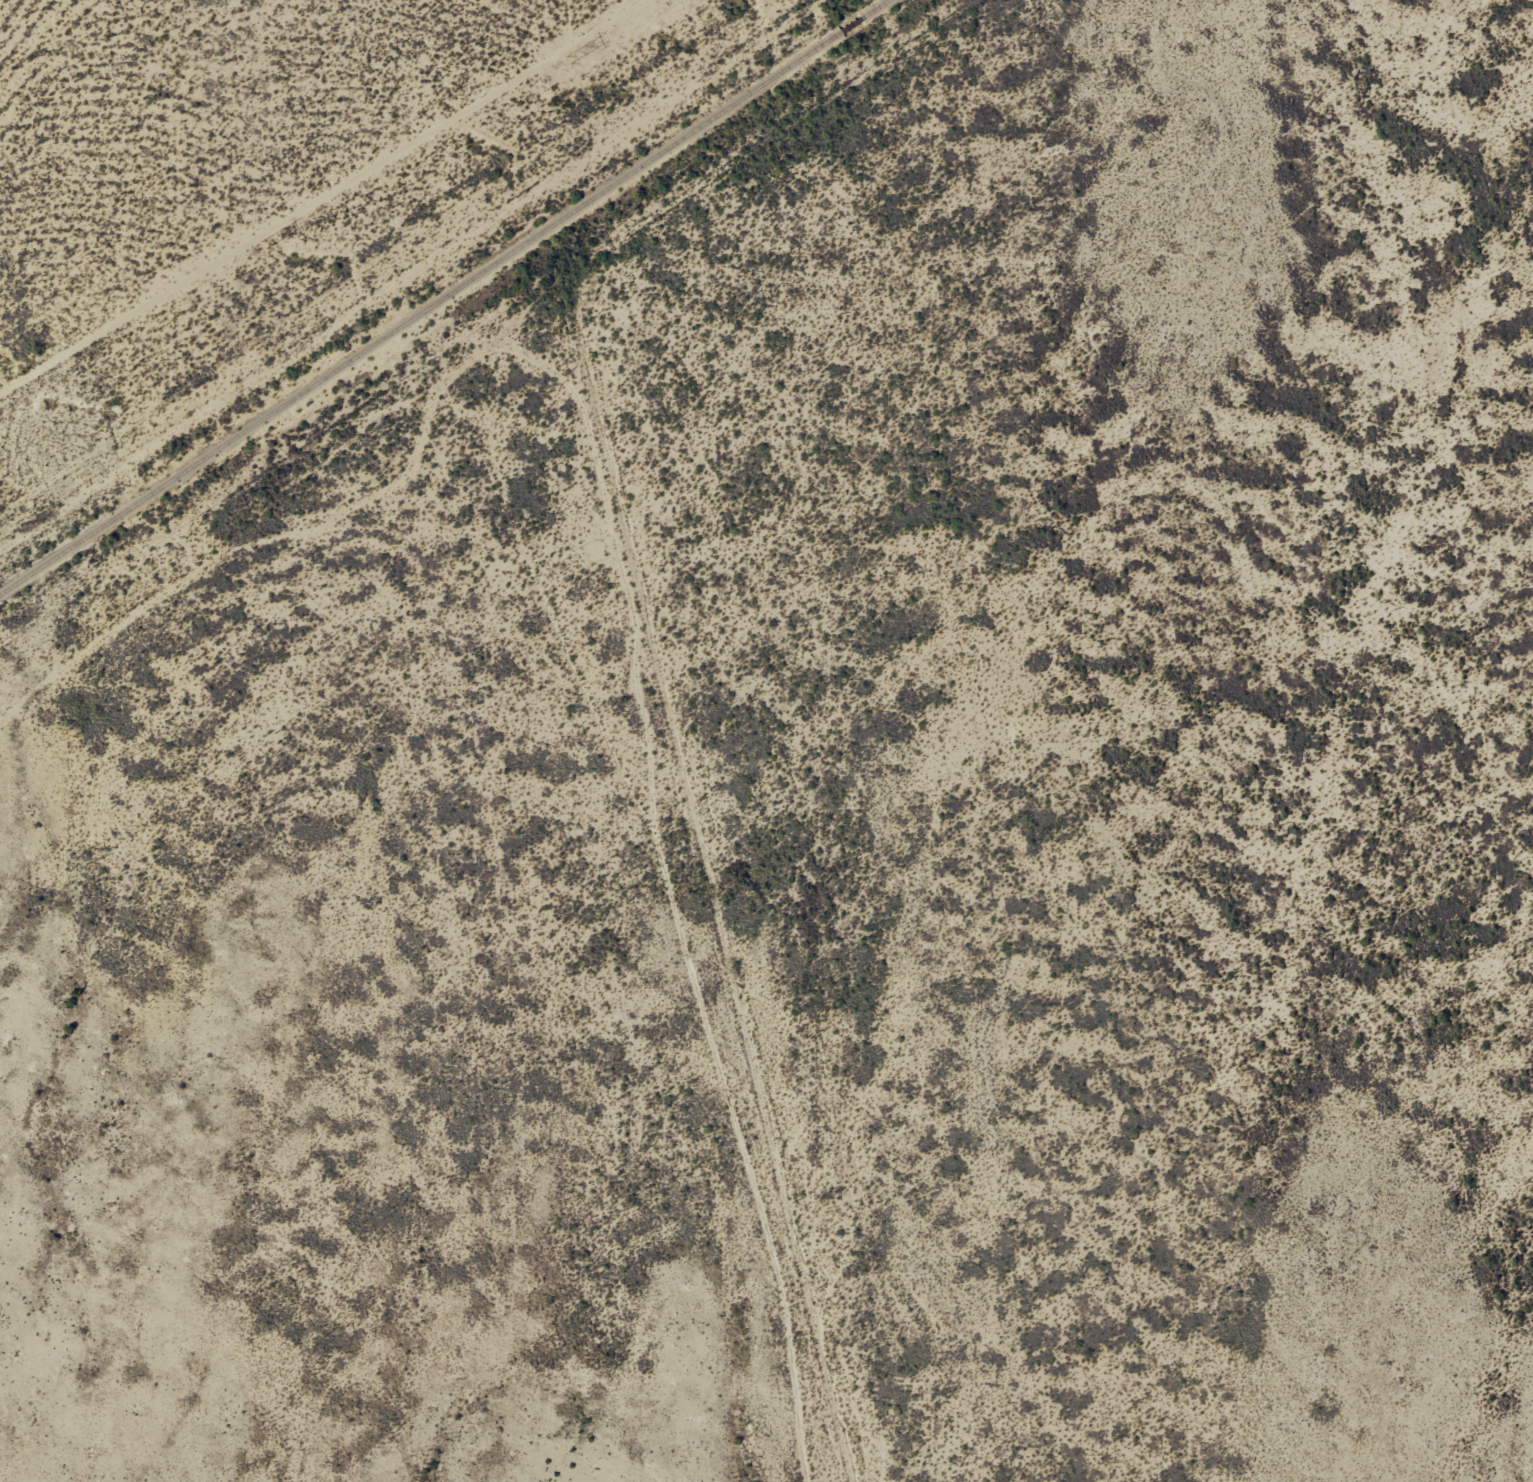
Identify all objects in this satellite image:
railway: (875, 9)
railway: (851, 25)
power tower: (568, 59)
power tower: (262, 245)
road: (389, 264)
railway: (420, 313)
road: (291, 524)
road: (665, 611)

